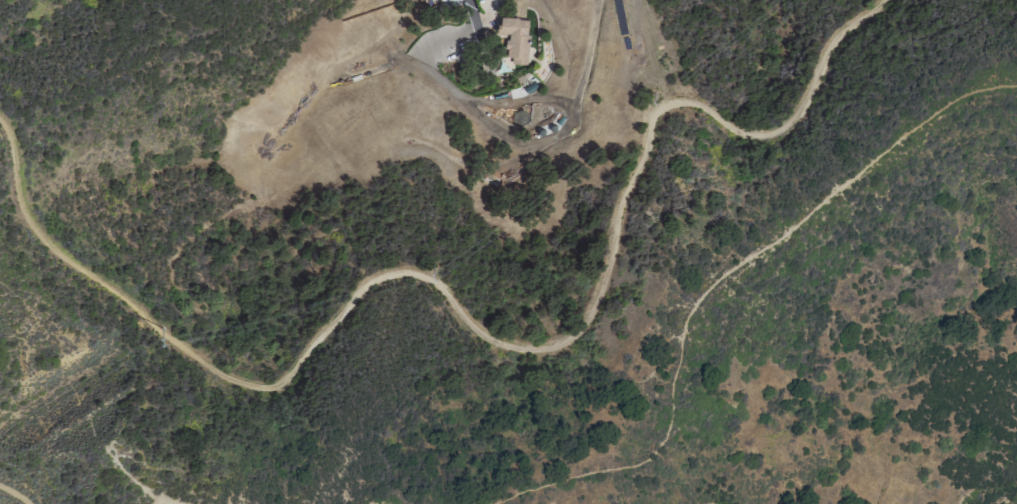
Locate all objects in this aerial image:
building: (515, 37)
road: (648, 51)
road: (537, 138)
road: (721, 278)
road: (468, 318)
road: (136, 478)
road: (13, 495)
road: (712, 502)

